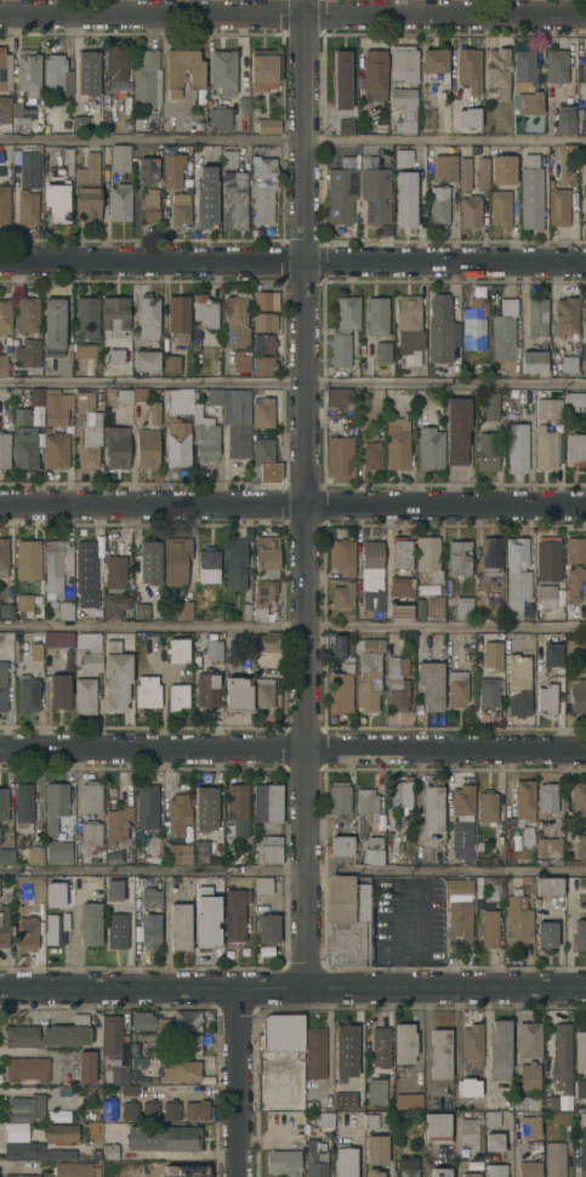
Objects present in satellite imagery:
road: (292, 17)
building: (403, 63)
building: (115, 64)
building: (434, 66)
building: (556, 66)
building: (585, 66)
building: (468, 68)
building: (264, 69)
building: (183, 70)
building: (5, 72)
building: (86, 73)
building: (497, 73)
building: (28, 74)
building: (227, 74)
building: (375, 74)
building: (56, 75)
building: (146, 79)
building: (342, 80)
building: (104, 81)
building: (527, 85)
building: (104, 87)
building: (104, 102)
building: (404, 108)
building: (5, 114)
building: (21, 118)
building: (218, 118)
building: (467, 118)
building: (428, 119)
building: (563, 119)
building: (104, 121)
building: (79, 124)
building: (66, 125)
building: (268, 126)
building: (345, 126)
road: (292, 141)
building: (474, 150)
building: (482, 150)
building: (568, 152)
building: (1, 158)
building: (228, 158)
building: (119, 159)
building: (403, 160)
building: (68, 161)
building: (29, 167)
building: (444, 167)
building: (147, 169)
building: (263, 169)
building: (502, 169)
building: (172, 170)
building: (52, 171)
building: (465, 174)
building: (482, 174)
building: (573, 183)
building: (87, 189)
building: (341, 192)
building: (375, 192)
building: (530, 193)
building: (404, 200)
building: (57, 201)
building: (119, 201)
building: (233, 201)
building: (146, 204)
building: (206, 204)
building: (263, 204)
building: (438, 204)
building: (4, 205)
building: (27, 207)
building: (558, 207)
building: (180, 209)
building: (500, 209)
building: (470, 211)
building: (585, 211)
road: (292, 263)
building: (266, 301)
building: (206, 309)
building: (28, 311)
building: (563, 311)
building: (115, 315)
building: (5, 317)
building: (376, 317)
building: (536, 317)
building: (148, 318)
building: (178, 318)
building: (85, 322)
building: (235, 323)
building: (263, 323)
building: (582, 323)
building: (473, 324)
building: (53, 328)
building: (409, 329)
building: (343, 330)
building: (440, 330)
building: (503, 330)
building: (195, 336)
building: (195, 343)
building: (263, 345)
building: (83, 351)
building: (28, 353)
building: (582, 354)
building: (115, 357)
building: (146, 362)
building: (534, 362)
building: (241, 363)
building: (171, 364)
building: (381, 364)
building: (567, 364)
building: (5, 365)
building: (263, 366)
road: (292, 386)
building: (138, 394)
building: (16, 396)
building: (35, 397)
building: (124, 397)
building: (214, 397)
building: (338, 399)
building: (574, 400)
building: (176, 403)
building: (56, 408)
building: (489, 408)
building: (544, 409)
building: (262, 413)
building: (154, 414)
building: (21, 417)
building: (237, 420)
building: (456, 430)
building: (86, 431)
building: (206, 442)
building: (398, 443)
building: (177, 445)
building: (24, 447)
building: (545, 447)
building: (116, 448)
building: (516, 448)
building: (147, 449)
building: (429, 449)
building: (4, 450)
building: (56, 450)
building: (575, 450)
building: (485, 451)
building: (371, 455)
building: (340, 459)
building: (264, 460)
road: (302, 494)
road: (292, 507)
building: (575, 550)
building: (266, 552)
building: (400, 553)
building: (491, 556)
building: (2, 557)
road: (98, 557)
building: (459, 557)
building: (343, 558)
building: (371, 559)
building: (427, 559)
building: (547, 559)
building: (27, 561)
building: (175, 561)
building: (149, 562)
building: (207, 564)
building: (235, 565)
building: (114, 572)
building: (85, 573)
building: (517, 573)
building: (57, 575)
building: (575, 584)
building: (400, 587)
building: (496, 590)
building: (419, 591)
building: (545, 596)
building: (262, 597)
building: (374, 598)
building: (342, 599)
building: (23, 602)
building: (114, 605)
building: (463, 605)
building: (429, 608)
building: (6, 610)
building: (141, 612)
building: (183, 612)
building: (246, 612)
building: (399, 612)
road: (292, 630)
building: (243, 638)
building: (57, 639)
building: (266, 642)
building: (338, 648)
building: (573, 648)
building: (177, 650)
building: (212, 650)
building: (35, 652)
building: (90, 652)
building: (493, 655)
building: (551, 655)
building: (369, 672)
building: (115, 677)
building: (397, 684)
building: (431, 684)
building: (2, 686)
building: (518, 687)
building: (456, 688)
building: (59, 690)
building: (206, 690)
building: (341, 692)
building: (489, 692)
building: (147, 693)
building: (263, 693)
building: (28, 694)
building: (84, 695)
building: (237, 695)
building: (578, 695)
building: (178, 698)
building: (547, 699)
road: (292, 752)
building: (400, 792)
building: (90, 797)
building: (338, 800)
building: (546, 800)
building: (578, 800)
building: (462, 801)
building: (524, 801)
building: (267, 803)
building: (4, 804)
building: (147, 806)
building: (432, 806)
building: (55, 807)
building: (488, 807)
building: (23, 808)
building: (205, 808)
building: (238, 811)
building: (365, 812)
building: (178, 815)
building: (118, 823)
building: (397, 824)
building: (536, 825)
building: (90, 834)
building: (461, 840)
building: (152, 845)
building: (341, 846)
building: (550, 847)
building: (199, 848)
building: (268, 849)
building: (58, 852)
building: (371, 852)
building: (579, 853)
building: (180, 854)
building: (34, 855)
building: (6, 857)
building: (485, 862)
road: (292, 872)
building: (200, 885)
building: (262, 886)
building: (548, 887)
building: (459, 888)
building: (113, 889)
building: (148, 893)
building: (55, 895)
building: (510, 904)
building: (234, 915)
building: (210, 921)
building: (347, 921)
building: (90, 925)
building: (459, 925)
building: (180, 926)
building: (4, 927)
building: (518, 927)
building: (147, 928)
building: (268, 928)
building: (489, 928)
building: (55, 929)
building: (116, 929)
building: (27, 933)
building: (546, 934)
building: (579, 936)
road: (398, 938)
road: (292, 990)
building: (166, 1020)
building: (283, 1031)
building: (49, 1033)
building: (113, 1035)
building: (160, 1036)
building: (529, 1037)
building: (186, 1042)
building: (405, 1042)
building: (472, 1044)
building: (133, 1047)
building: (380, 1047)
building: (500, 1048)
building: (345, 1050)
building: (314, 1051)
building: (580, 1051)
building: (439, 1052)
building: (562, 1057)
building: (86, 1067)
building: (27, 1068)
building: (398, 1069)
building: (180, 1070)
building: (115, 1074)
building: (530, 1075)
building: (53, 1078)
road: (234, 1084)
building: (467, 1086)
building: (580, 1087)
building: (129, 1090)
road: (189, 1090)
building: (376, 1091)
building: (343, 1099)
building: (406, 1101)
building: (525, 1101)
building: (550, 1104)
building: (25, 1107)
building: (109, 1108)
building: (129, 1109)
building: (149, 1109)
building: (170, 1109)
building: (197, 1109)
building: (87, 1115)
building: (417, 1116)
building: (546, 1116)
building: (325, 1119)
building: (491, 1119)
building: (369, 1120)
building: (437, 1125)
building: (529, 1126)
building: (61, 1132)
building: (472, 1132)
building: (164, 1137)
building: (494, 1141)
building: (376, 1148)
building: (109, 1149)
building: (34, 1152)
building: (582, 1152)
building: (95, 1153)
building: (315, 1158)
building: (554, 1159)
building: (345, 1160)
building: (283, 1161)
building: (406, 1166)
building: (73, 1169)
building: (530, 1169)
building: (496, 1170)
building: (186, 1171)
building: (440, 1171)
building: (372, 1172)
building: (471, 1175)
building: (21, 1176)

